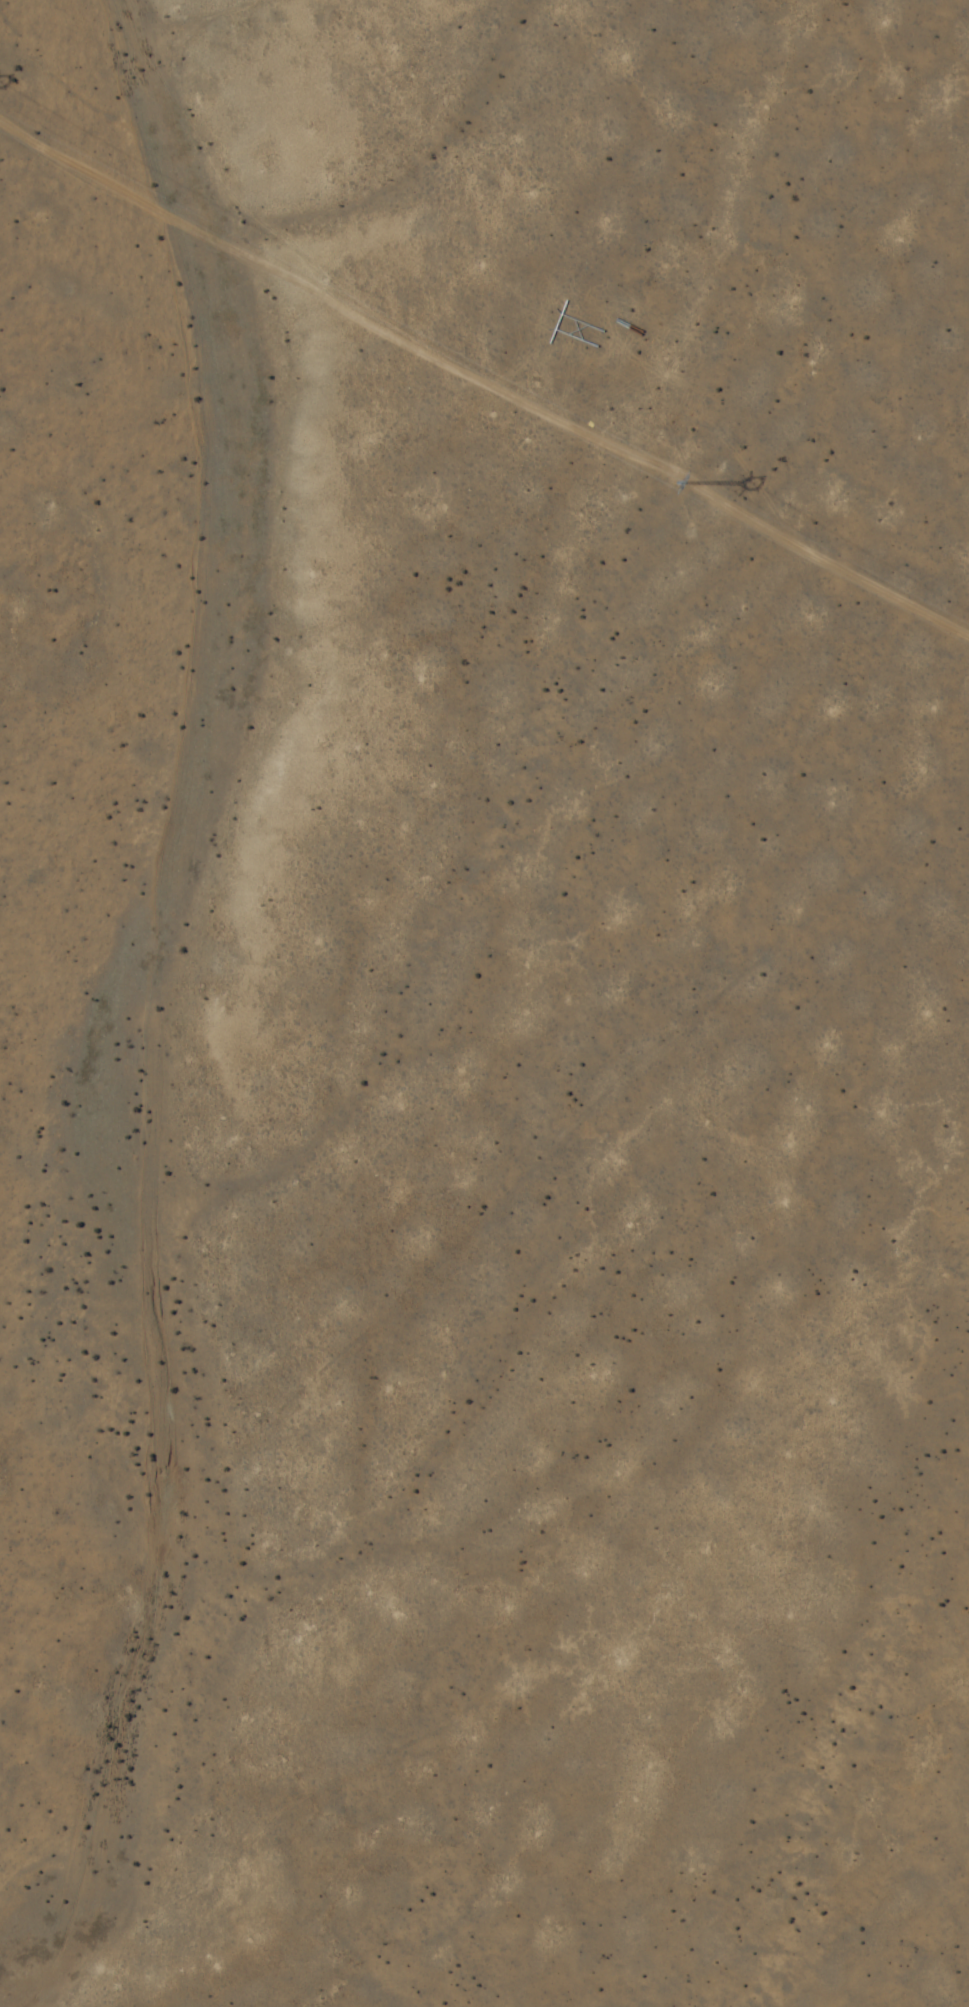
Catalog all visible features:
power tower: (676, 483)

